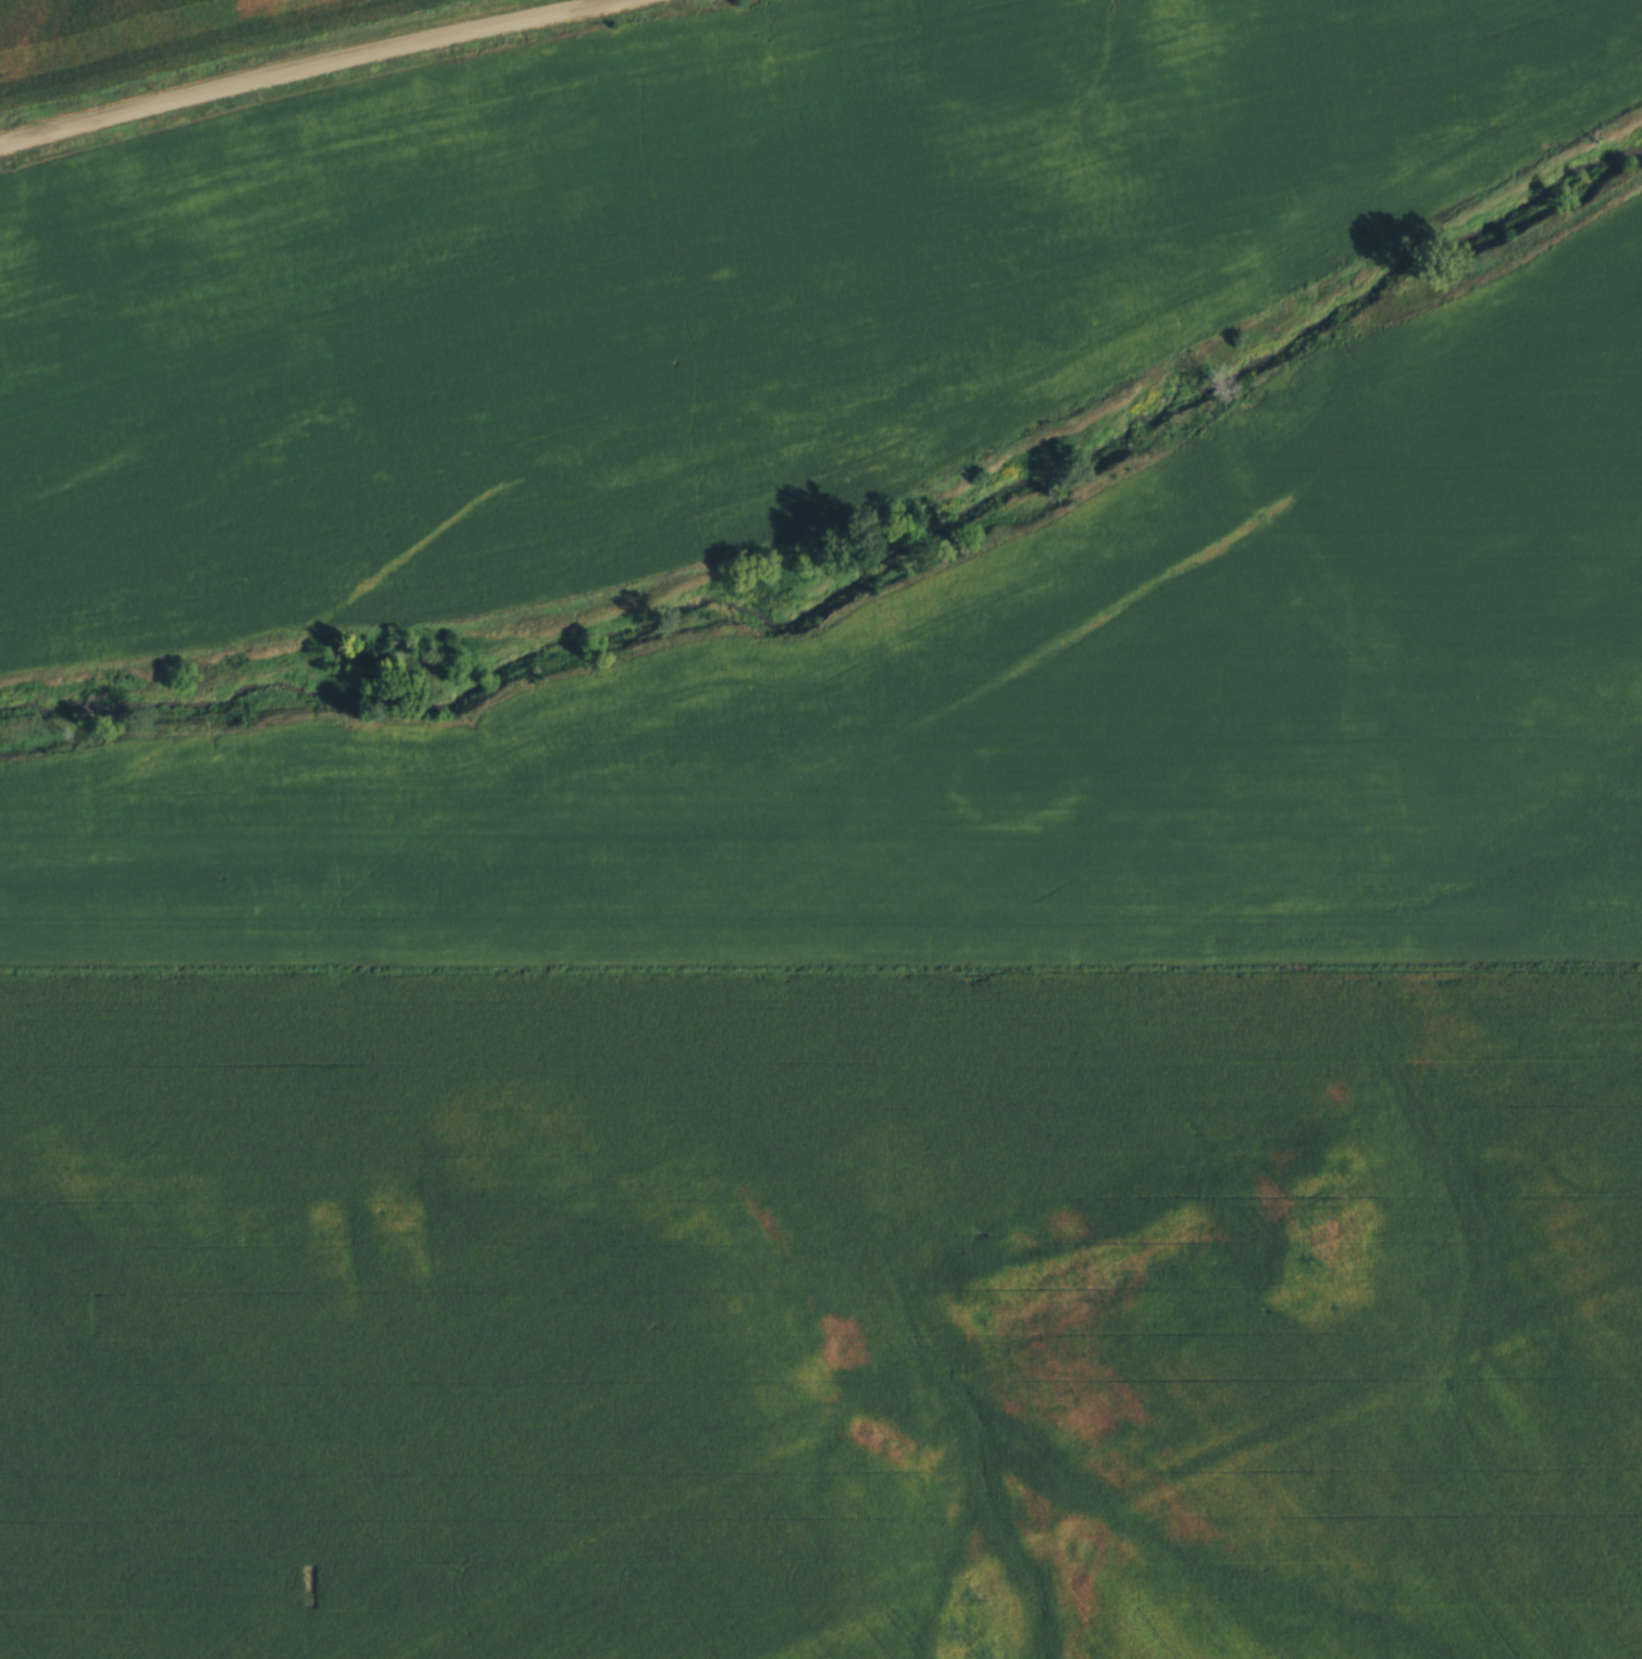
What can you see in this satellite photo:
road: (300, 73)

